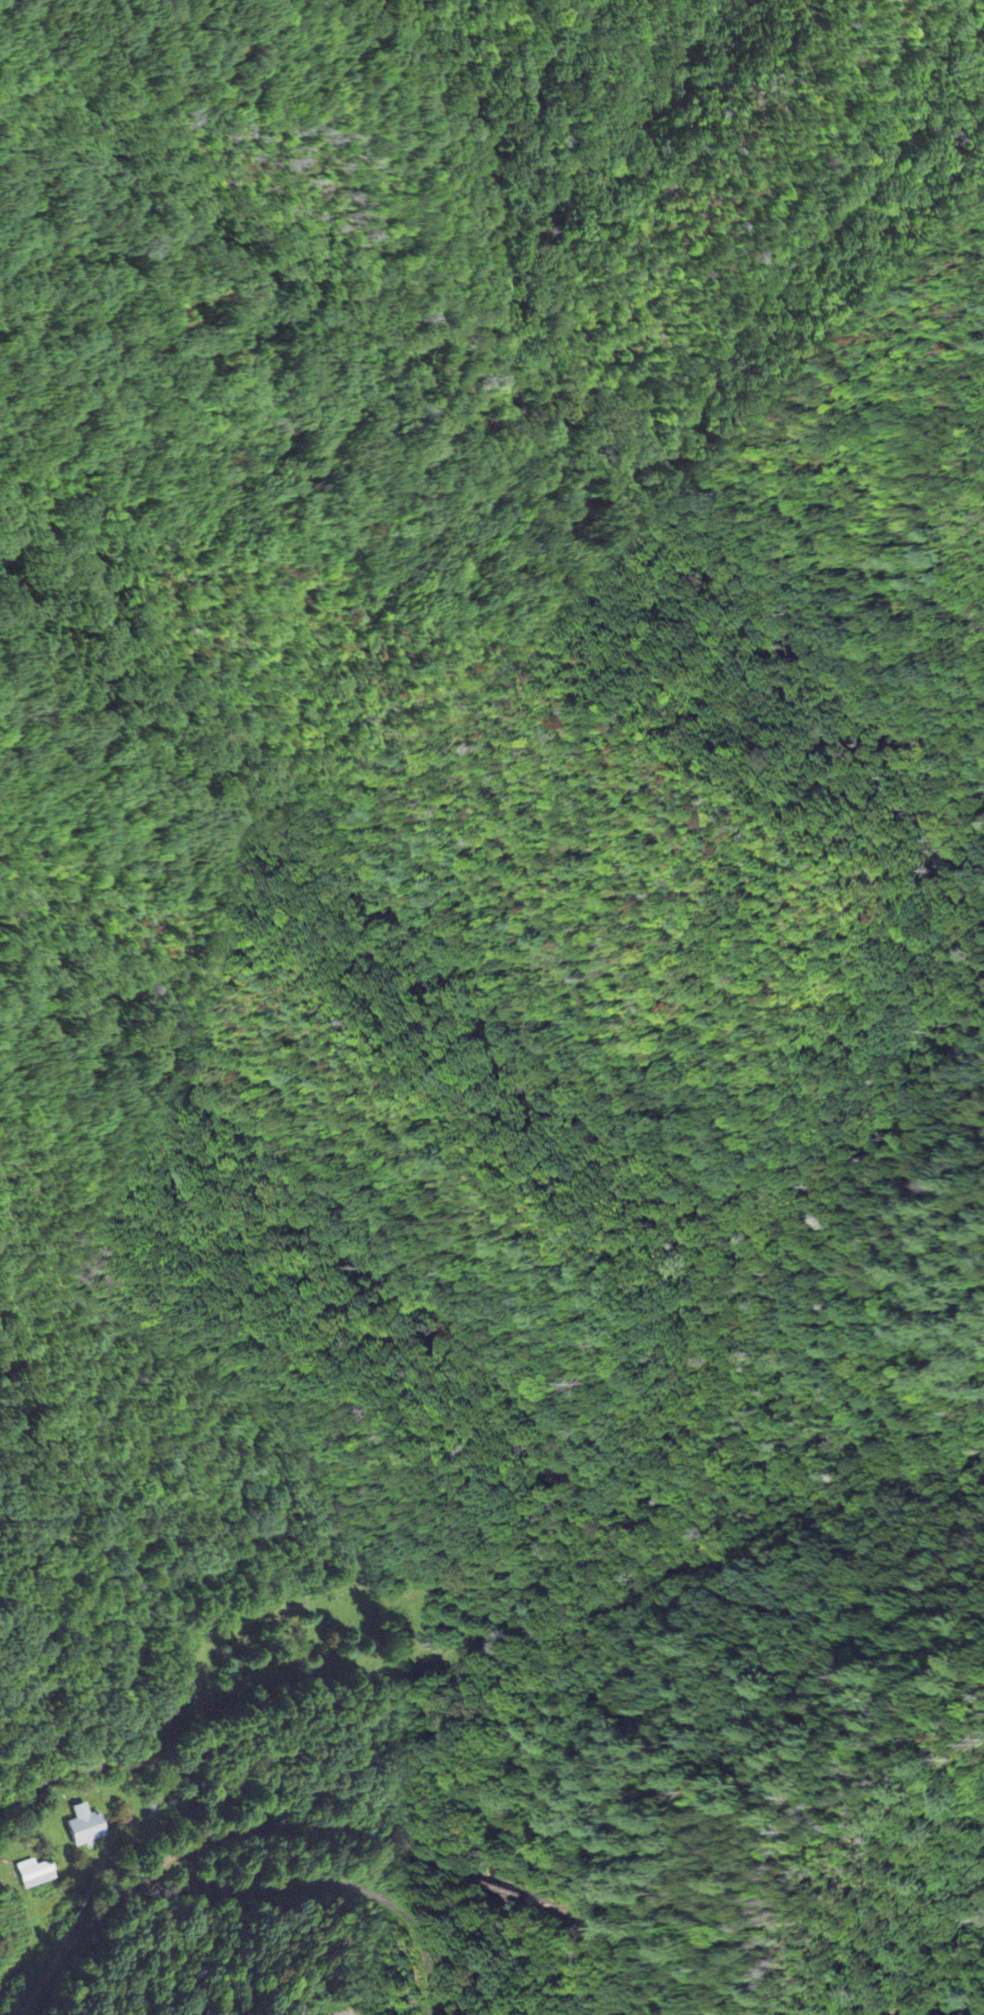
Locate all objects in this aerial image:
river: (324, 1801)
building: (85, 1827)
railway: (206, 1841)
building: (35, 1875)
road: (345, 1884)
railway: (497, 1885)
road: (161, 1889)
railway: (573, 1911)
river: (965, 1995)
railway: (877, 2010)
road: (340, 2013)

